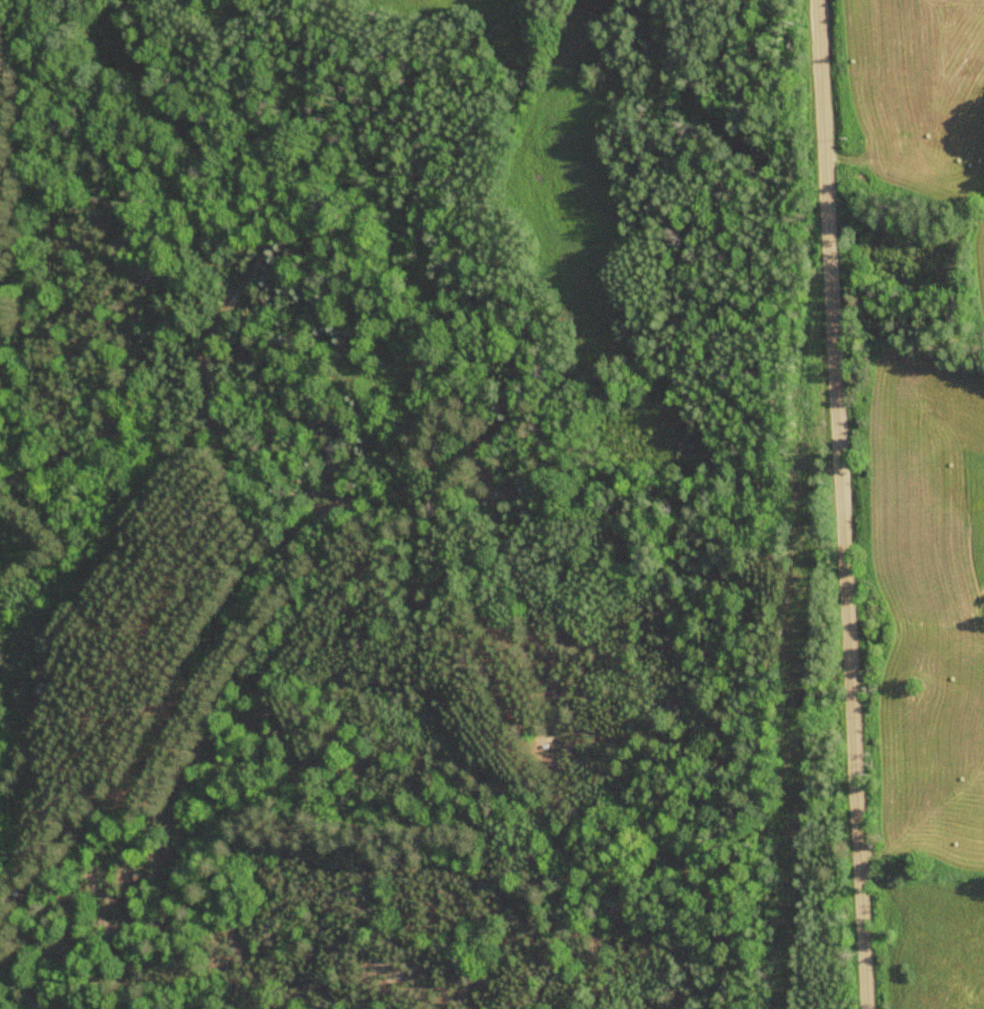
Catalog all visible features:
road: (840, 504)

